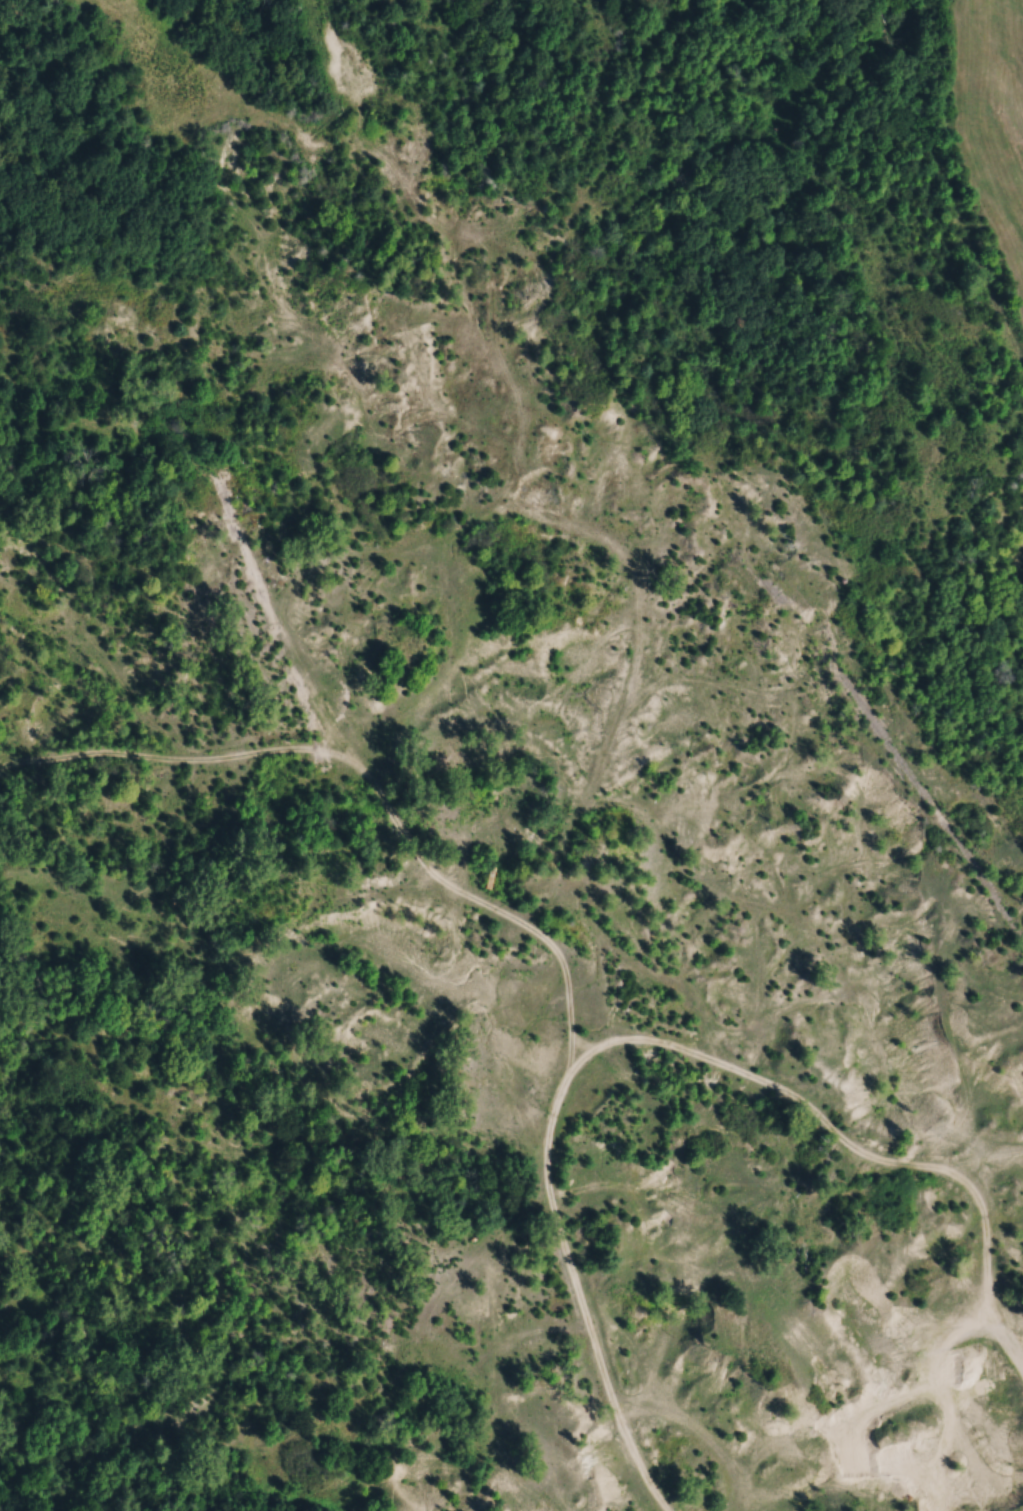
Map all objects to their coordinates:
road: (1019, 1368)

